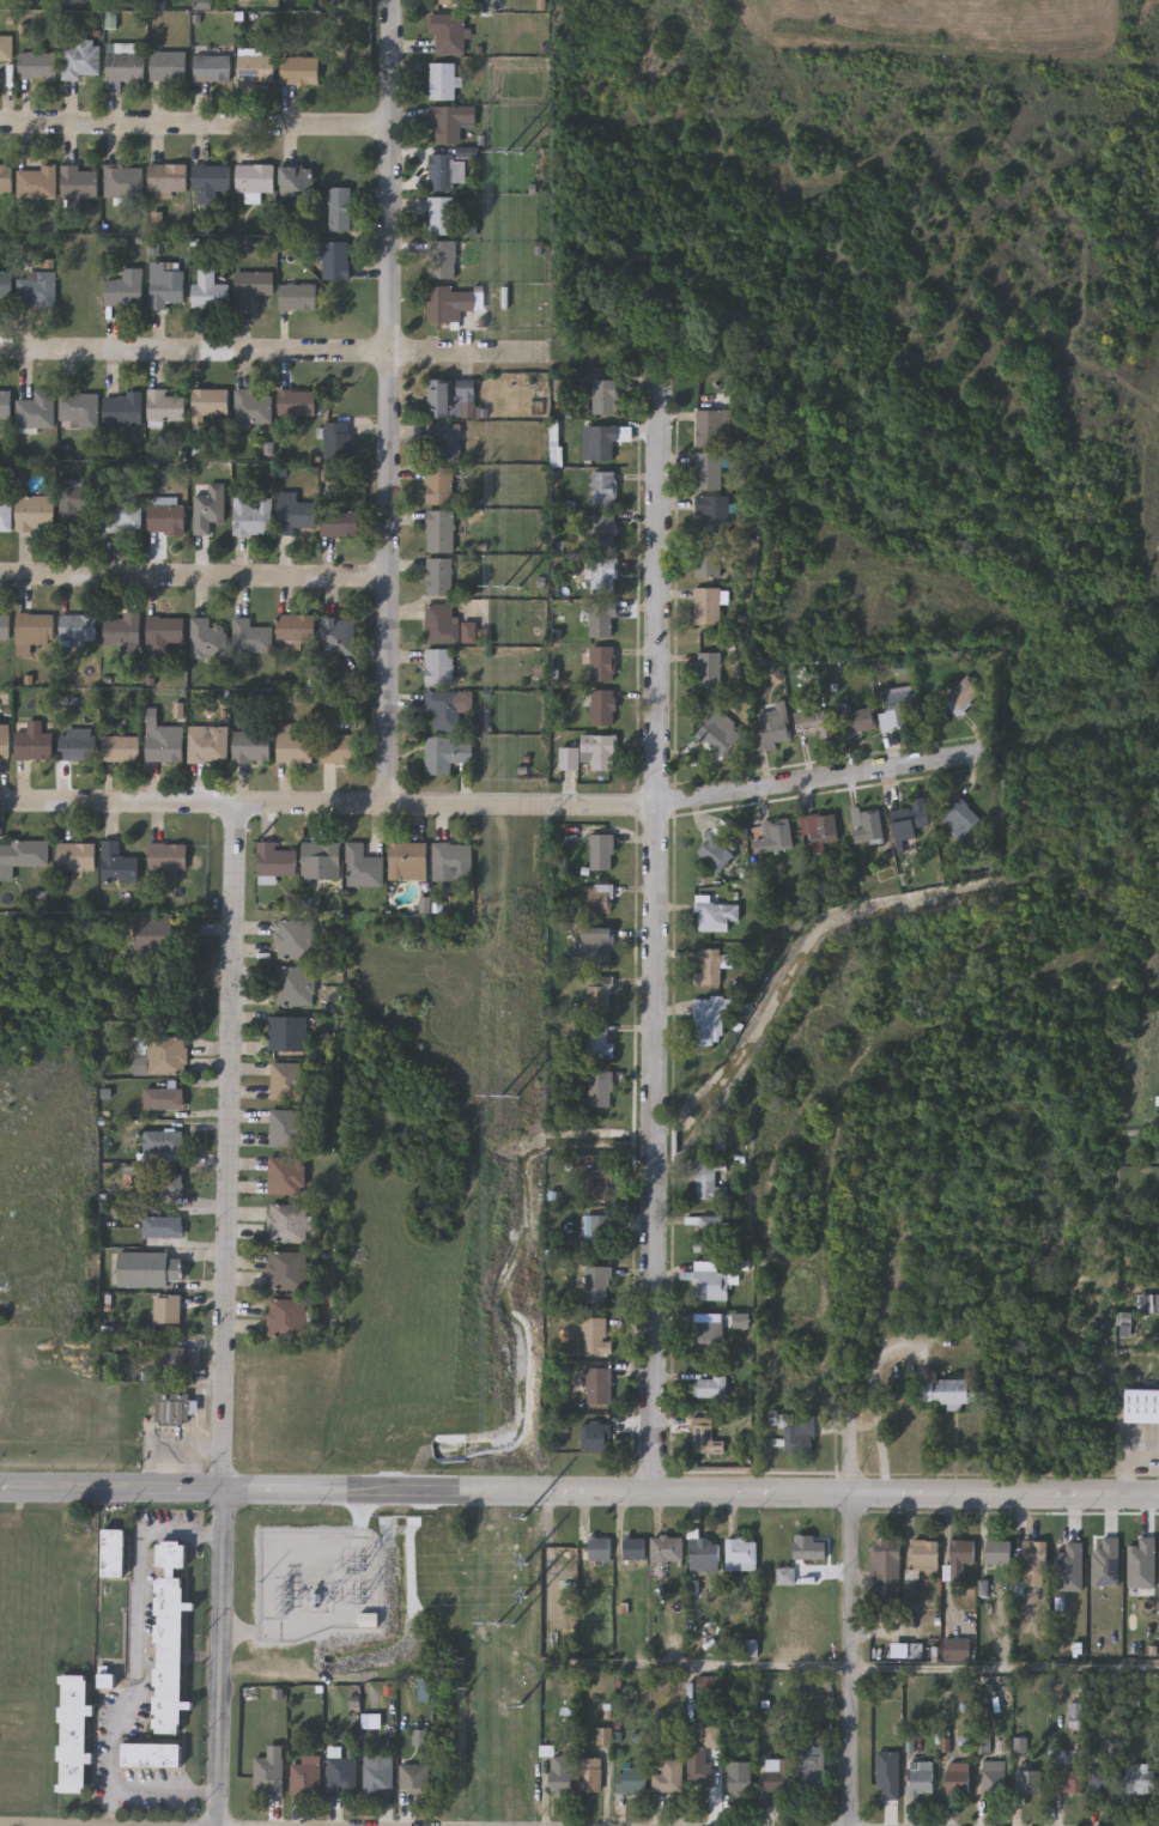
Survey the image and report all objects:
building: (451, 1)
building: (445, 32)
building: (6, 48)
building: (79, 60)
building: (36, 66)
building: (168, 67)
building: (125, 68)
building: (254, 68)
building: (211, 69)
building: (297, 71)
building: (441, 80)
road: (119, 120)
road: (314, 122)
building: (445, 123)
power tower: (517, 150)
building: (444, 171)
building: (6, 178)
building: (166, 178)
building: (251, 178)
building: (293, 180)
building: (122, 182)
building: (36, 183)
building: (78, 183)
building: (212, 184)
building: (338, 208)
building: (439, 214)
building: (441, 259)
building: (332, 260)
building: (5, 285)
building: (165, 287)
building: (249, 287)
building: (125, 289)
building: (35, 290)
building: (212, 295)
building: (295, 297)
building: (445, 303)
road: (117, 352)
road: (387, 354)
building: (448, 395)
building: (603, 396)
building: (295, 402)
road: (390, 402)
building: (5, 405)
building: (163, 406)
building: (211, 406)
building: (250, 408)
building: (78, 410)
building: (122, 410)
building: (35, 412)
building: (709, 426)
building: (334, 439)
building: (444, 439)
building: (599, 442)
building: (706, 469)
building: (437, 485)
building: (603, 489)
building: (74, 506)
building: (212, 511)
building: (5, 512)
building: (35, 514)
building: (291, 514)
building: (712, 514)
building: (121, 515)
building: (250, 515)
building: (164, 520)
building: (339, 522)
building: (438, 530)
building: (601, 532)
building: (706, 558)
building: (600, 575)
building: (438, 577)
road: (115, 584)
power tower: (514, 587)
road: (310, 588)
road: (660, 596)
building: (706, 605)
building: (601, 620)
building: (439, 624)
building: (4, 627)
building: (34, 629)
building: (293, 630)
building: (77, 631)
building: (121, 631)
building: (163, 635)
building: (248, 636)
building: (336, 636)
building: (210, 642)
building: (600, 663)
building: (437, 668)
building: (708, 669)
building: (959, 696)
building: (600, 706)
building: (445, 708)
building: (898, 712)
building: (811, 721)
building: (855, 721)
building: (770, 727)
building: (718, 733)
building: (32, 744)
building: (164, 745)
building: (4, 746)
building: (75, 746)
building: (211, 747)
building: (249, 747)
building: (292, 748)
building: (338, 748)
building: (121, 750)
building: (589, 753)
building: (444, 754)
road: (815, 779)
road: (116, 803)
road: (445, 806)
building: (957, 815)
building: (909, 820)
building: (868, 825)
building: (818, 832)
building: (773, 836)
building: (716, 845)
building: (599, 853)
building: (20, 857)
building: (75, 859)
building: (166, 860)
building: (320, 860)
building: (450, 860)
building: (406, 861)
building: (274, 862)
building: (117, 866)
building: (362, 867)
building: (595, 898)
building: (712, 915)
building: (293, 939)
building: (156, 944)
building: (594, 947)
building: (708, 969)
building: (292, 985)
building: (596, 999)
building: (708, 1021)
building: (286, 1035)
building: (596, 1042)
building: (159, 1056)
building: (286, 1081)
building: (599, 1092)
power tower: (510, 1096)
building: (163, 1098)
building: (285, 1129)
building: (163, 1146)
road: (226, 1147)
road: (655, 1151)
building: (285, 1176)
building: (705, 1181)
building: (162, 1183)
building: (595, 1184)
building: (286, 1223)
building: (162, 1226)
building: (704, 1231)
building: (596, 1234)
building: (150, 1269)
building: (285, 1270)
building: (595, 1284)
building: (712, 1286)
building: (1153, 1305)
building: (166, 1310)
building: (283, 1318)
building: (595, 1335)
building: (705, 1336)
building: (163, 1358)
building: (597, 1387)
building: (708, 1388)
building: (951, 1393)
road: (875, 1403)
building: (1141, 1406)
building: (171, 1409)
building: (799, 1436)
building: (594, 1438)
building: (703, 1438)
road: (111, 1492)
road: (538, 1492)
road: (1006, 1493)
building: (599, 1548)
building: (635, 1548)
building: (667, 1549)
building: (809, 1549)
building: (114, 1552)
building: (999, 1553)
building: (704, 1554)
building: (741, 1554)
building: (926, 1555)
building: (959, 1558)
building: (1034, 1558)
power tower: (529, 1561)
building: (885, 1570)
building: (785, 1576)
power substation: (318, 1582)
power tower: (529, 1595)
building: (374, 1621)
power tower: (510, 1625)
building: (170, 1636)
building: (957, 1650)
road: (222, 1658)
road: (852, 1660)
road: (860, 1667)
road: (136, 1679)
building: (73, 1733)
building: (711, 1736)
building: (153, 1754)
building: (698, 1767)
building: (809, 1770)
building: (269, 1773)
building: (377, 1775)
building: (560, 1775)
building: (307, 1776)
building: (342, 1776)
building: (591, 1776)
building: (882, 1776)
building: (668, 1777)
building: (739, 1777)
building: (922, 1777)
building: (414, 1778)
building: (777, 1778)
building: (957, 1778)
building: (993, 1778)
building: (1139, 1778)
building: (1067, 1779)
building: (1103, 1779)
building: (631, 1780)
building: (1030, 1782)

